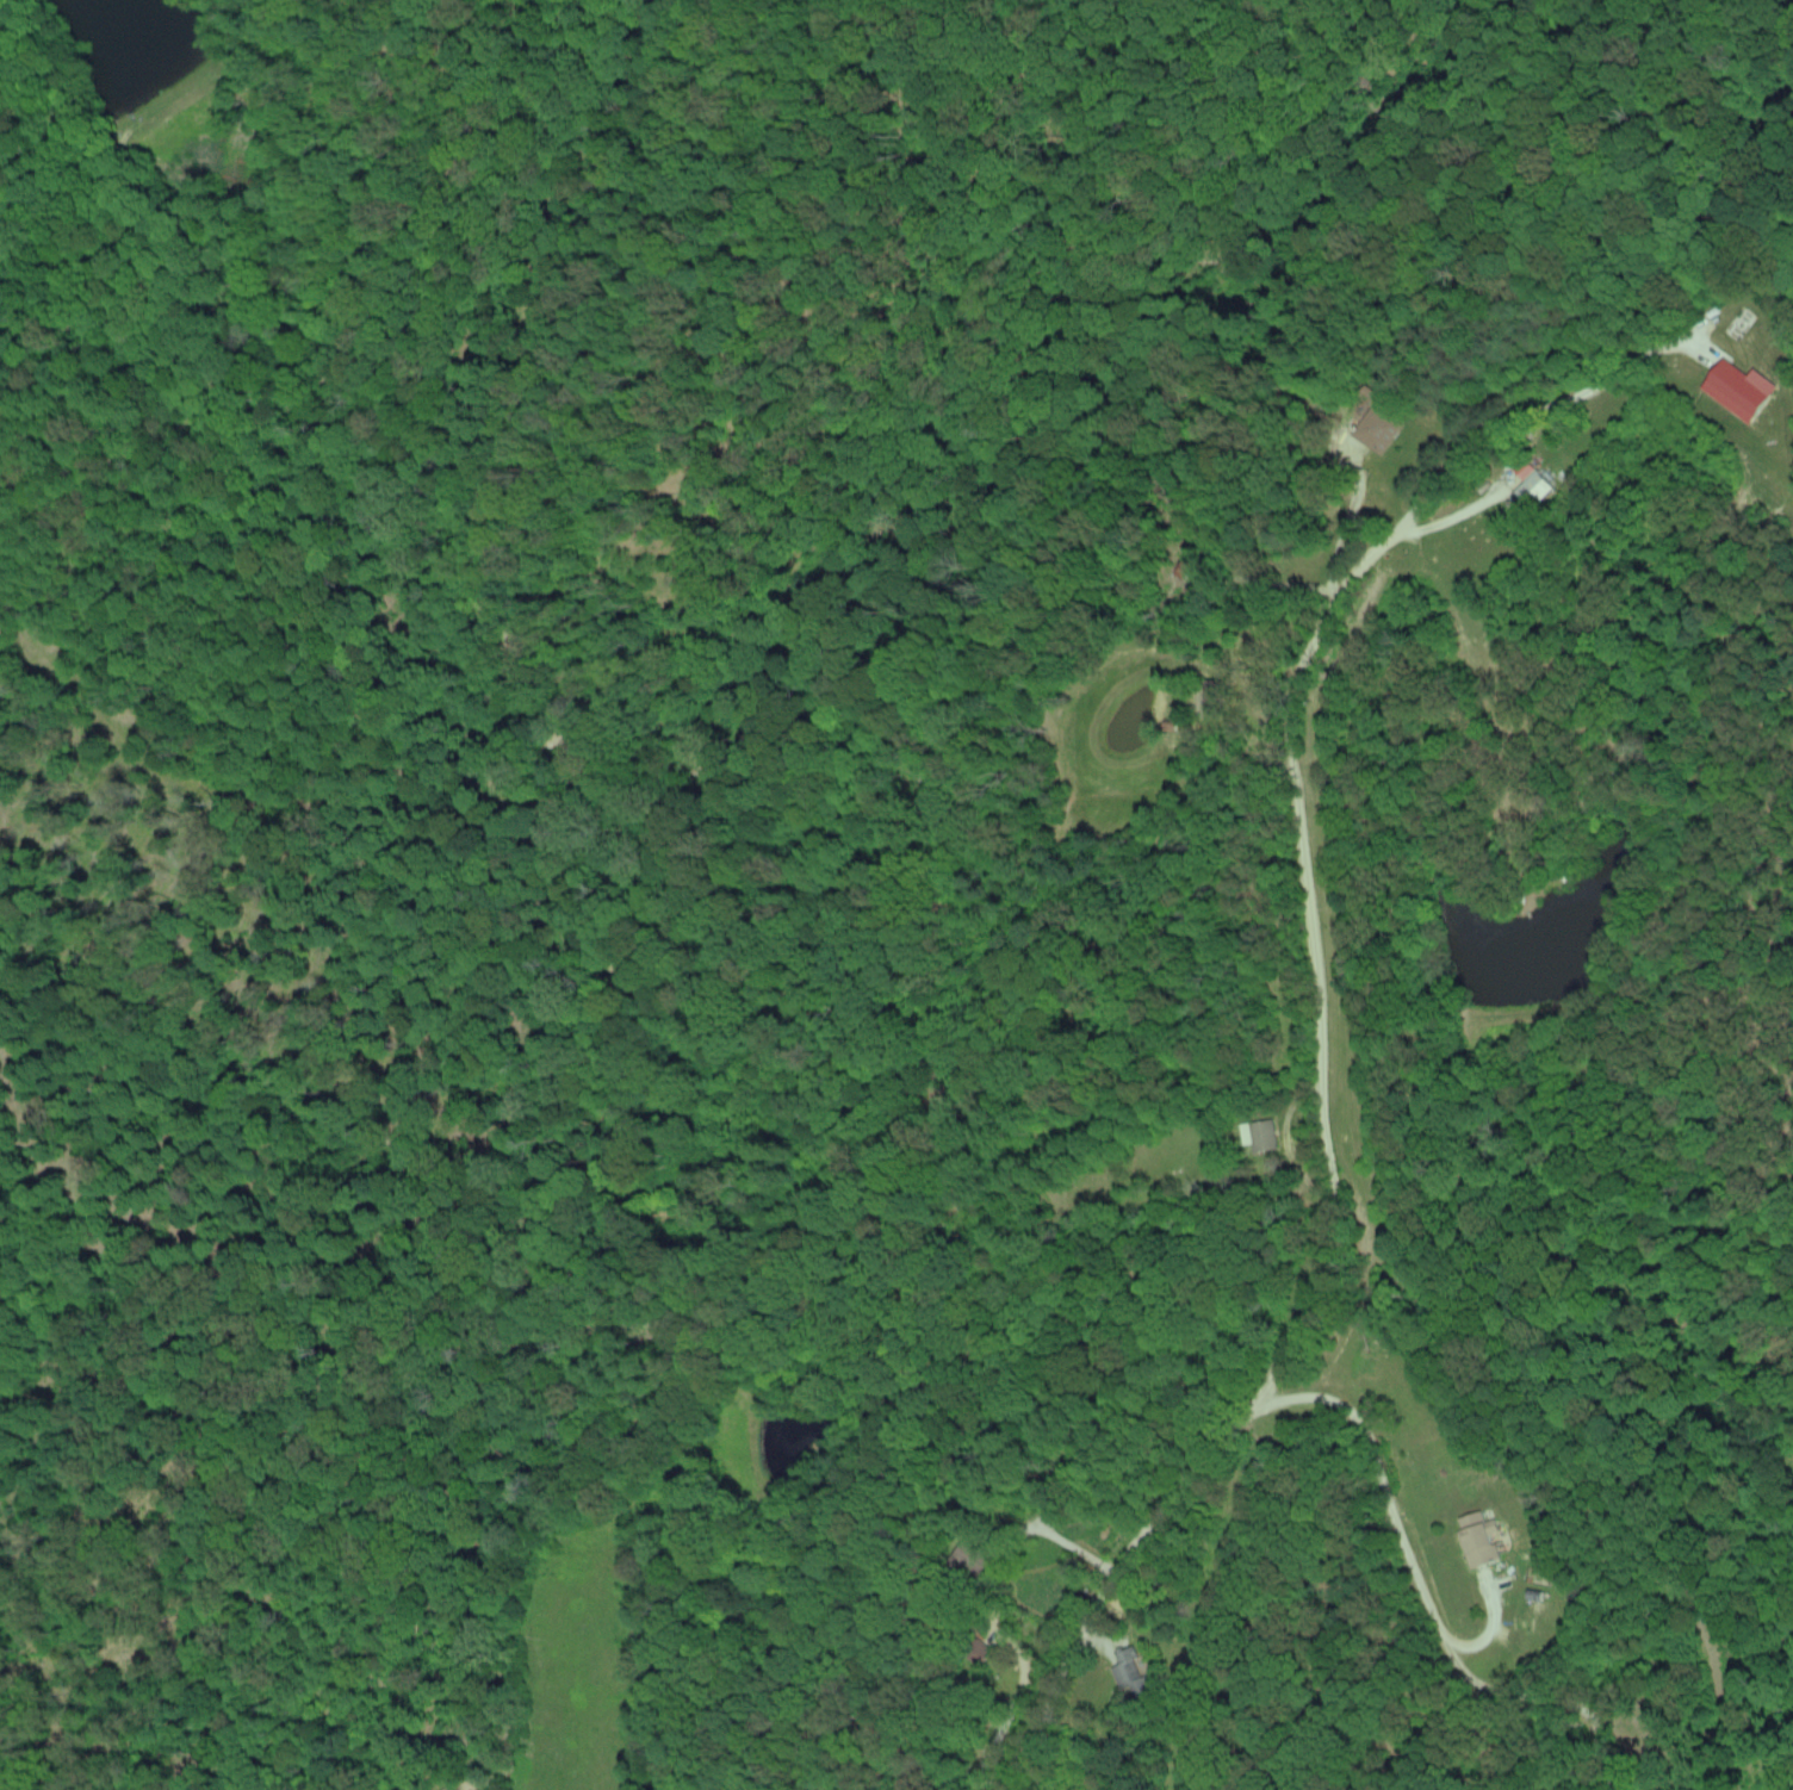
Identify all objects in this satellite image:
road: (1602, 361)
building: (1736, 389)
building: (1372, 428)
building: (1530, 487)
road: (55, 713)
building: (1255, 1133)
road: (1339, 1168)
building: (1474, 1536)
road: (1428, 1591)
building: (1127, 1668)

